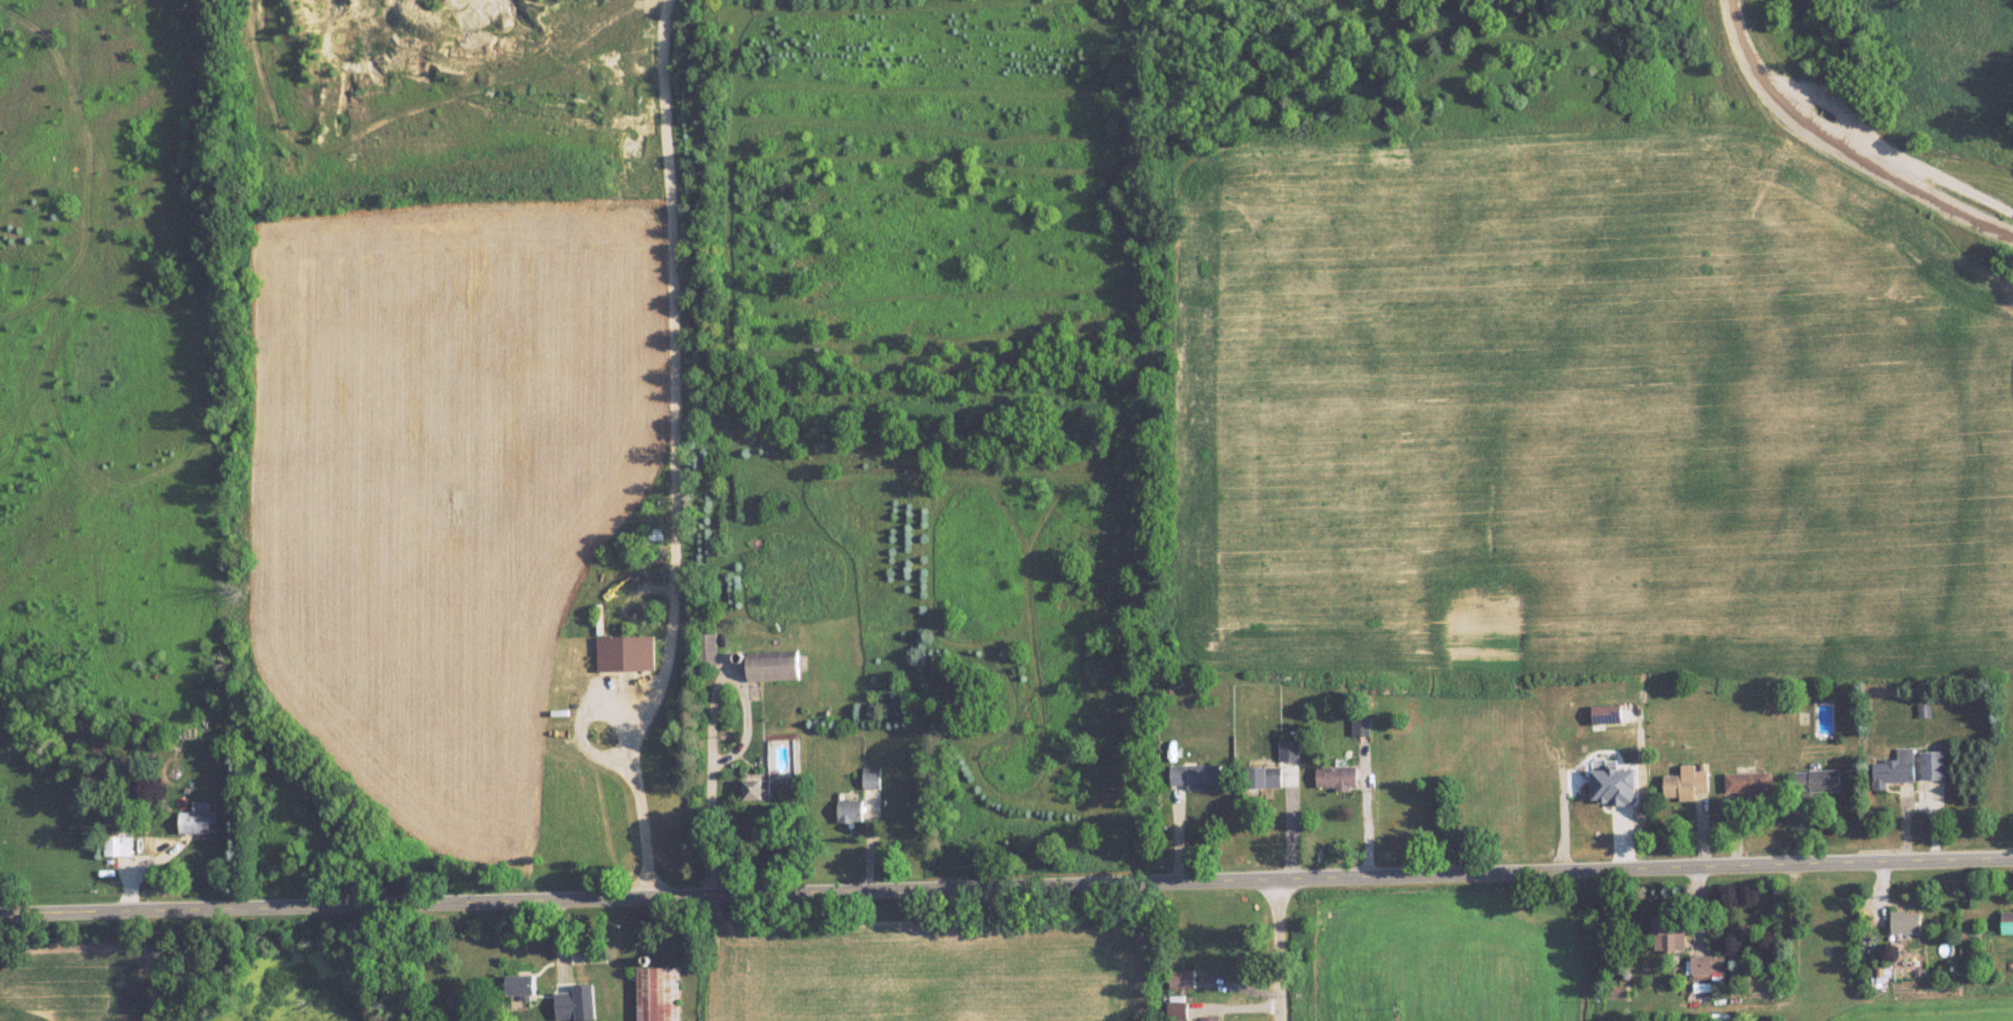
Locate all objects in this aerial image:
road: (1760, 82)
quarry: (1888, 100)
quarry: (464, 101)
road: (1923, 169)
road: (1918, 190)
building: (653, 534)
building: (708, 650)
building: (625, 653)
building: (775, 666)
building: (1605, 713)
building: (1360, 727)
building: (1289, 749)
building: (1932, 765)
building: (1895, 769)
building: (1202, 776)
building: (1262, 777)
building: (1337, 778)
building: (1819, 780)
building: (1749, 782)
building: (872, 783)
building: (1616, 785)
building: (1687, 785)
building: (758, 789)
road: (641, 808)
building: (852, 811)
building: (197, 817)
road: (1382, 818)
road: (711, 823)
building: (116, 843)
road: (1006, 888)
building: (2007, 921)
building: (1905, 922)
building: (1670, 931)
road: (1281, 951)
building: (1708, 964)
building: (522, 985)
building: (658, 994)
building: (1178, 1011)
building: (1210, 1018)

